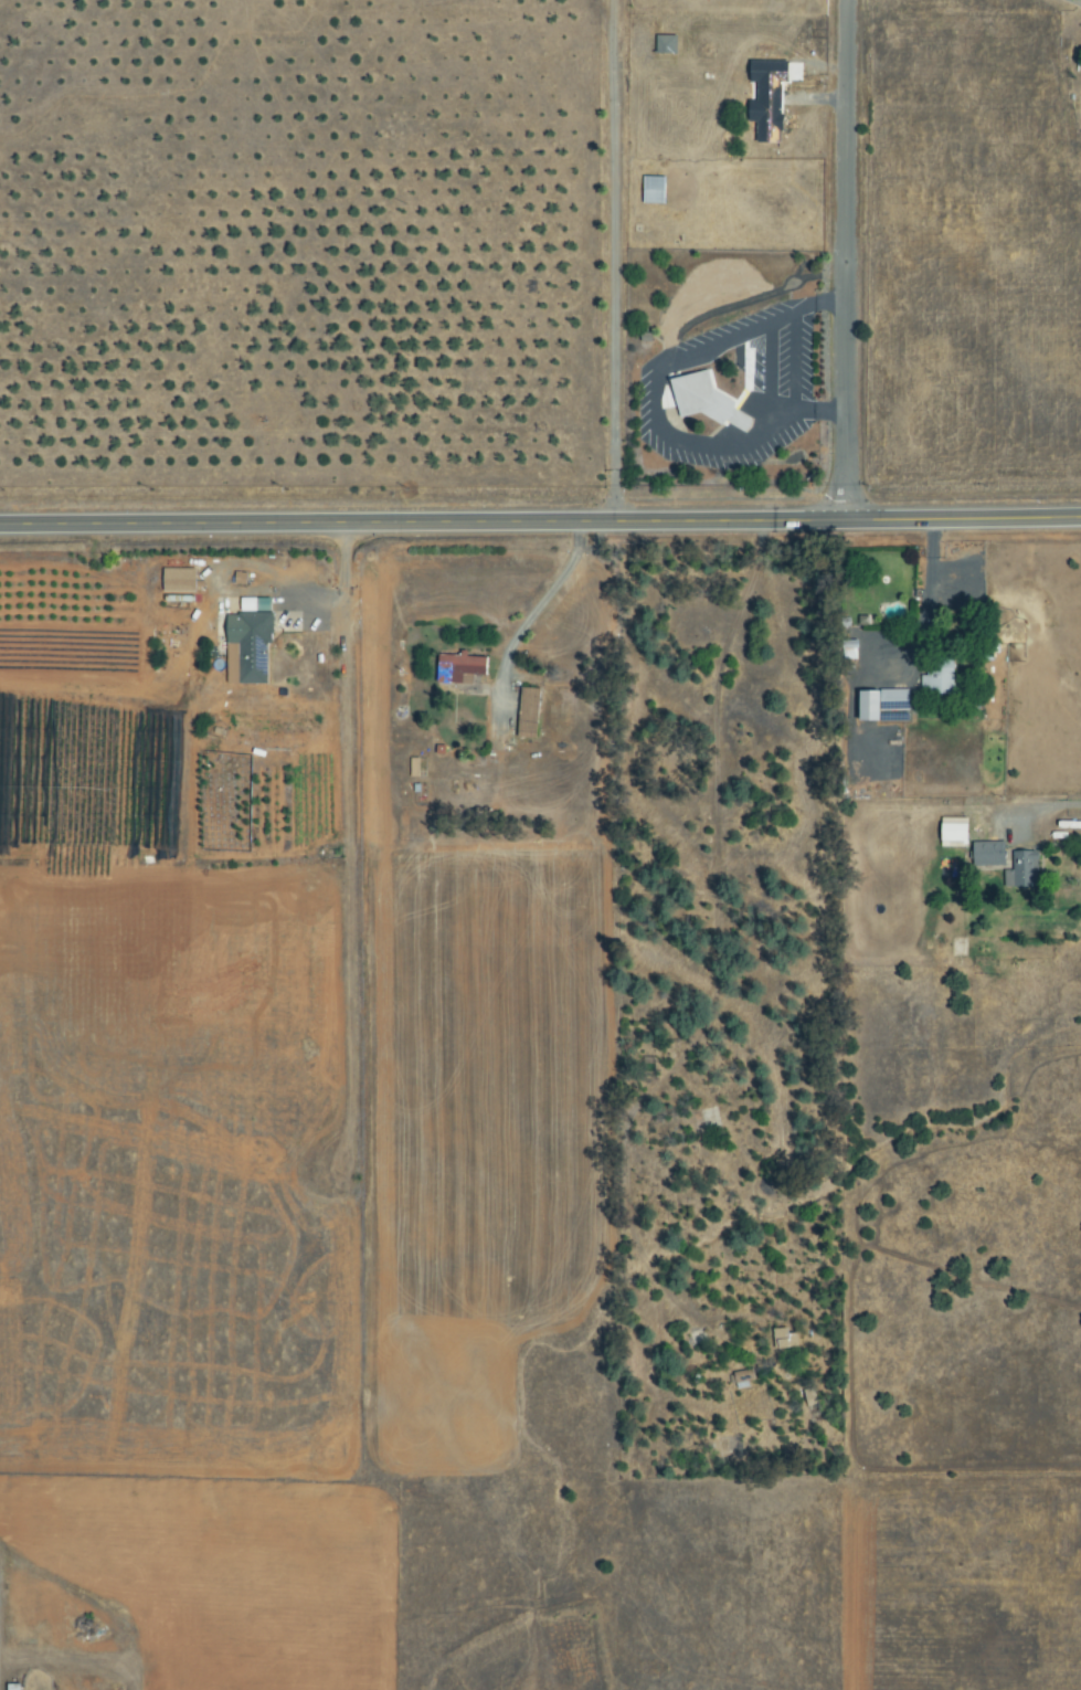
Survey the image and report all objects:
building: (771, 116)
building: (656, 190)
road: (848, 260)
building: (708, 401)
road: (540, 524)
building: (181, 580)
building: (252, 644)
building: (462, 667)
building: (941, 675)
building: (887, 706)
building: (531, 714)
building: (416, 768)
road: (1049, 805)
building: (957, 836)
building: (990, 855)
building: (1025, 870)
building: (746, 1379)

